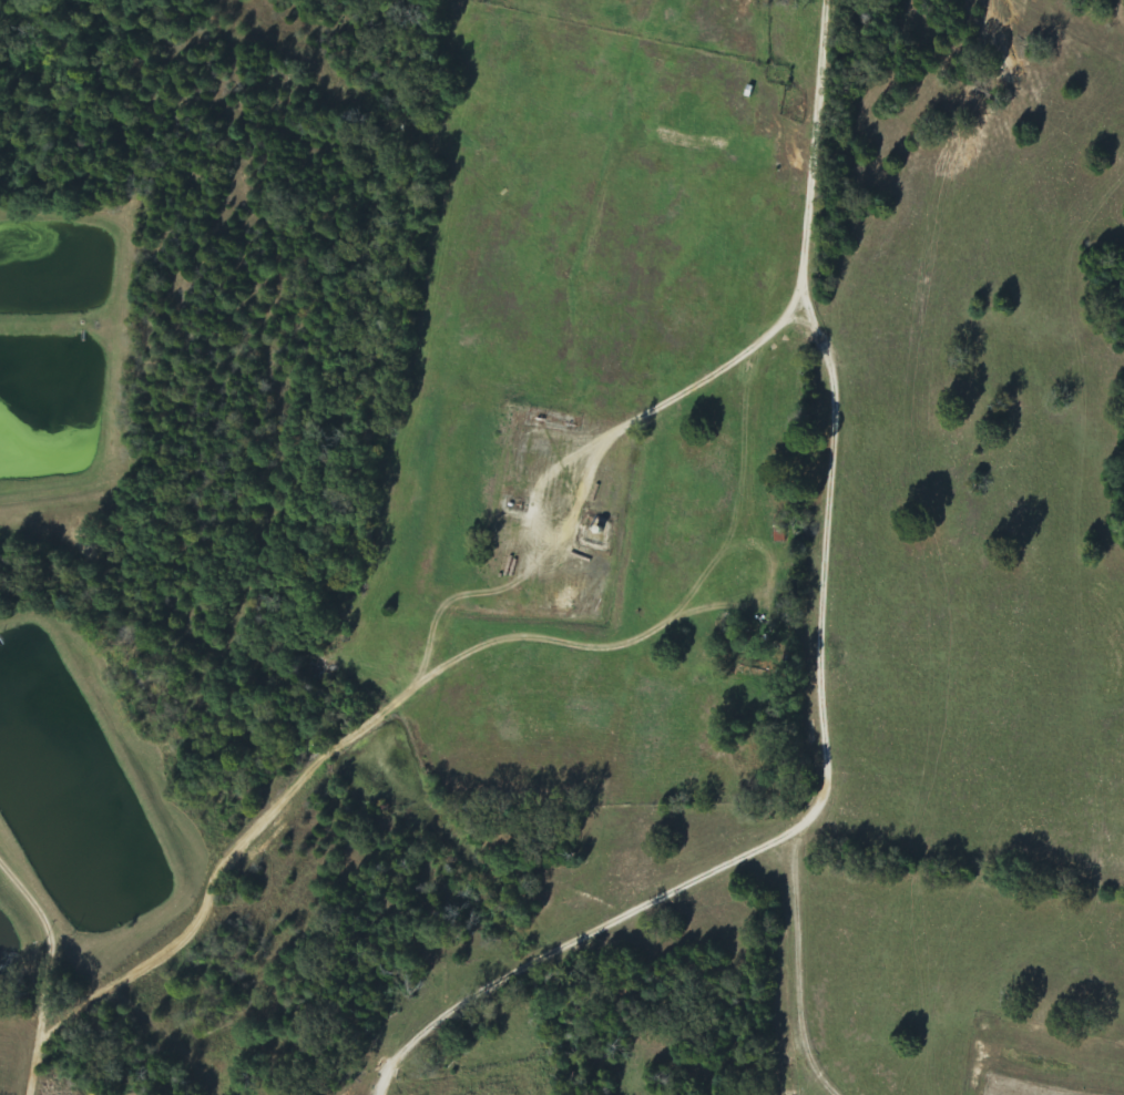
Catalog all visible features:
road: (34, 966)

